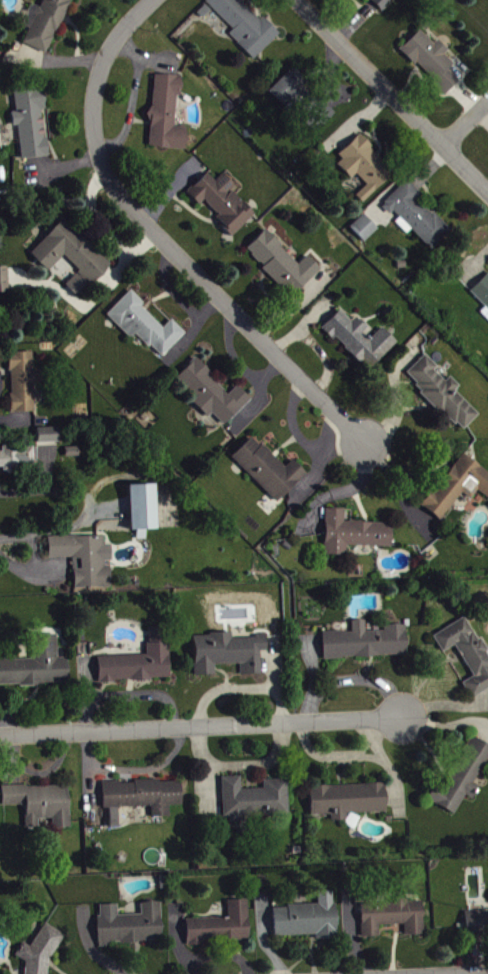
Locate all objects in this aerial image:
building: (383, 5)
building: (246, 27)
building: (46, 34)
building: (432, 64)
road: (392, 94)
building: (304, 103)
building: (168, 117)
building: (32, 124)
road: (468, 128)
building: (366, 170)
building: (224, 205)
building: (418, 218)
building: (366, 231)
road: (166, 242)
building: (72, 260)
building: (284, 267)
building: (4, 283)
building: (482, 296)
building: (146, 328)
building: (360, 342)
building: (23, 385)
building: (213, 396)
building: (442, 396)
building: (49, 438)
building: (73, 455)
building: (14, 461)
building: (269, 473)
building: (457, 489)
building: (143, 512)
building: (354, 537)
road: (39, 561)
building: (86, 562)
building: (366, 645)
building: (229, 656)
building: (467, 656)
building: (140, 665)
building: (37, 669)
road: (202, 728)
building: (463, 781)
building: (143, 801)
building: (254, 802)
building: (347, 803)
building: (41, 808)
building: (392, 920)
building: (308, 922)
building: (476, 927)
building: (131, 928)
building: (222, 929)
building: (41, 953)

